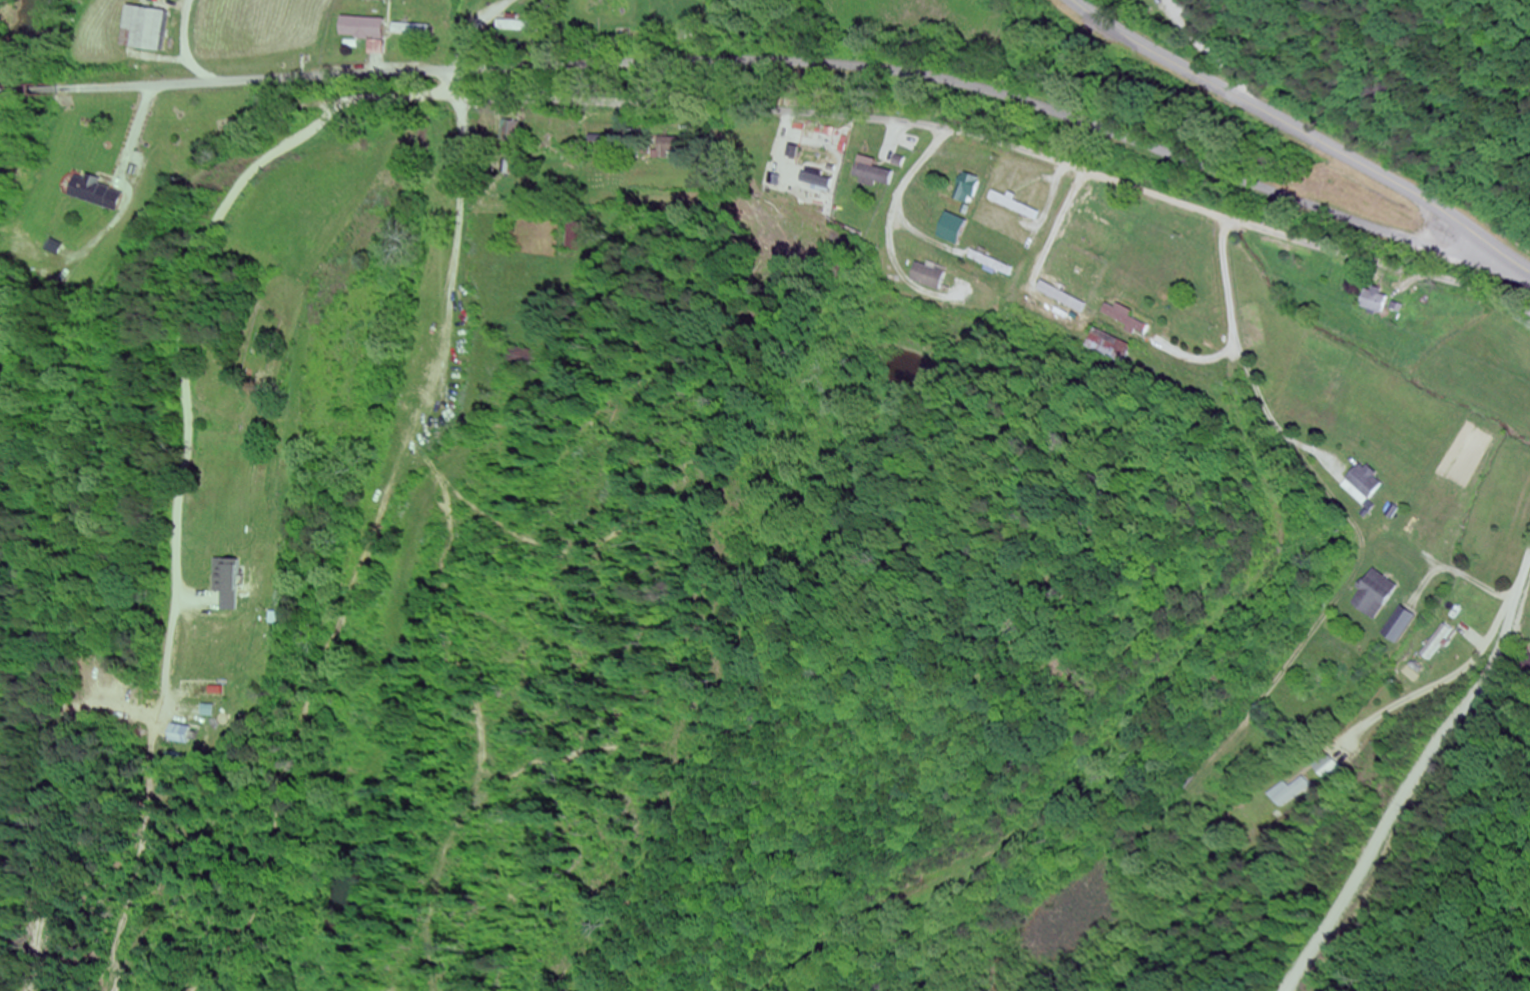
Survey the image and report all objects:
building: (368, 0)
building: (141, 29)
building: (363, 32)
river: (11, 37)
road: (808, 60)
road: (26, 89)
road: (825, 107)
road: (1303, 133)
building: (666, 148)
building: (873, 177)
building: (818, 181)
road: (1423, 186)
building: (89, 194)
building: (1081, 229)
building: (950, 230)
building: (570, 237)
building: (926, 278)
building: (1374, 301)
building: (1373, 595)
building: (1399, 626)
building: (1435, 644)
building: (211, 692)
building: (1322, 768)
building: (1283, 792)

